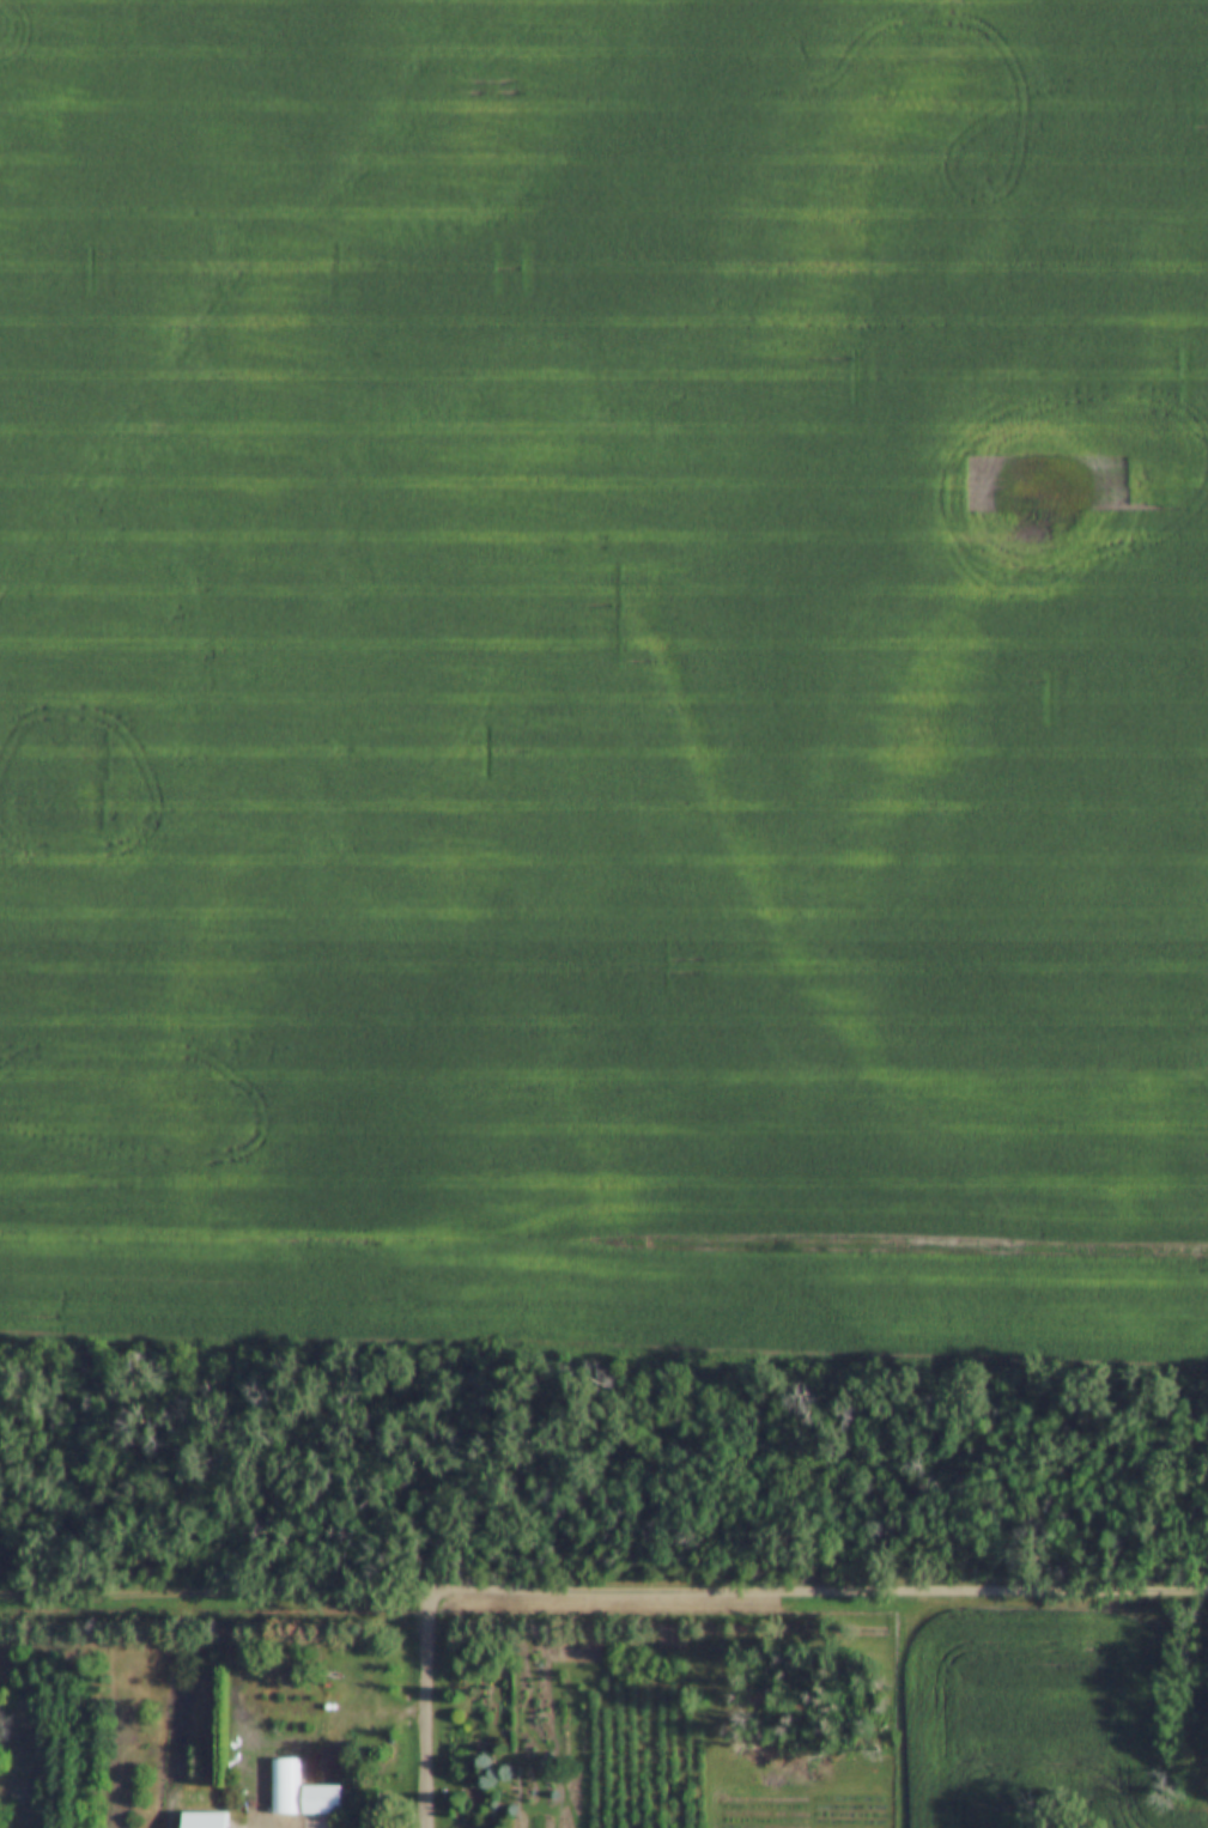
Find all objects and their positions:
road: (214, 1589)
road: (819, 1590)
road: (427, 1708)
road: (894, 1708)
building: (320, 1797)
building: (200, 1821)

